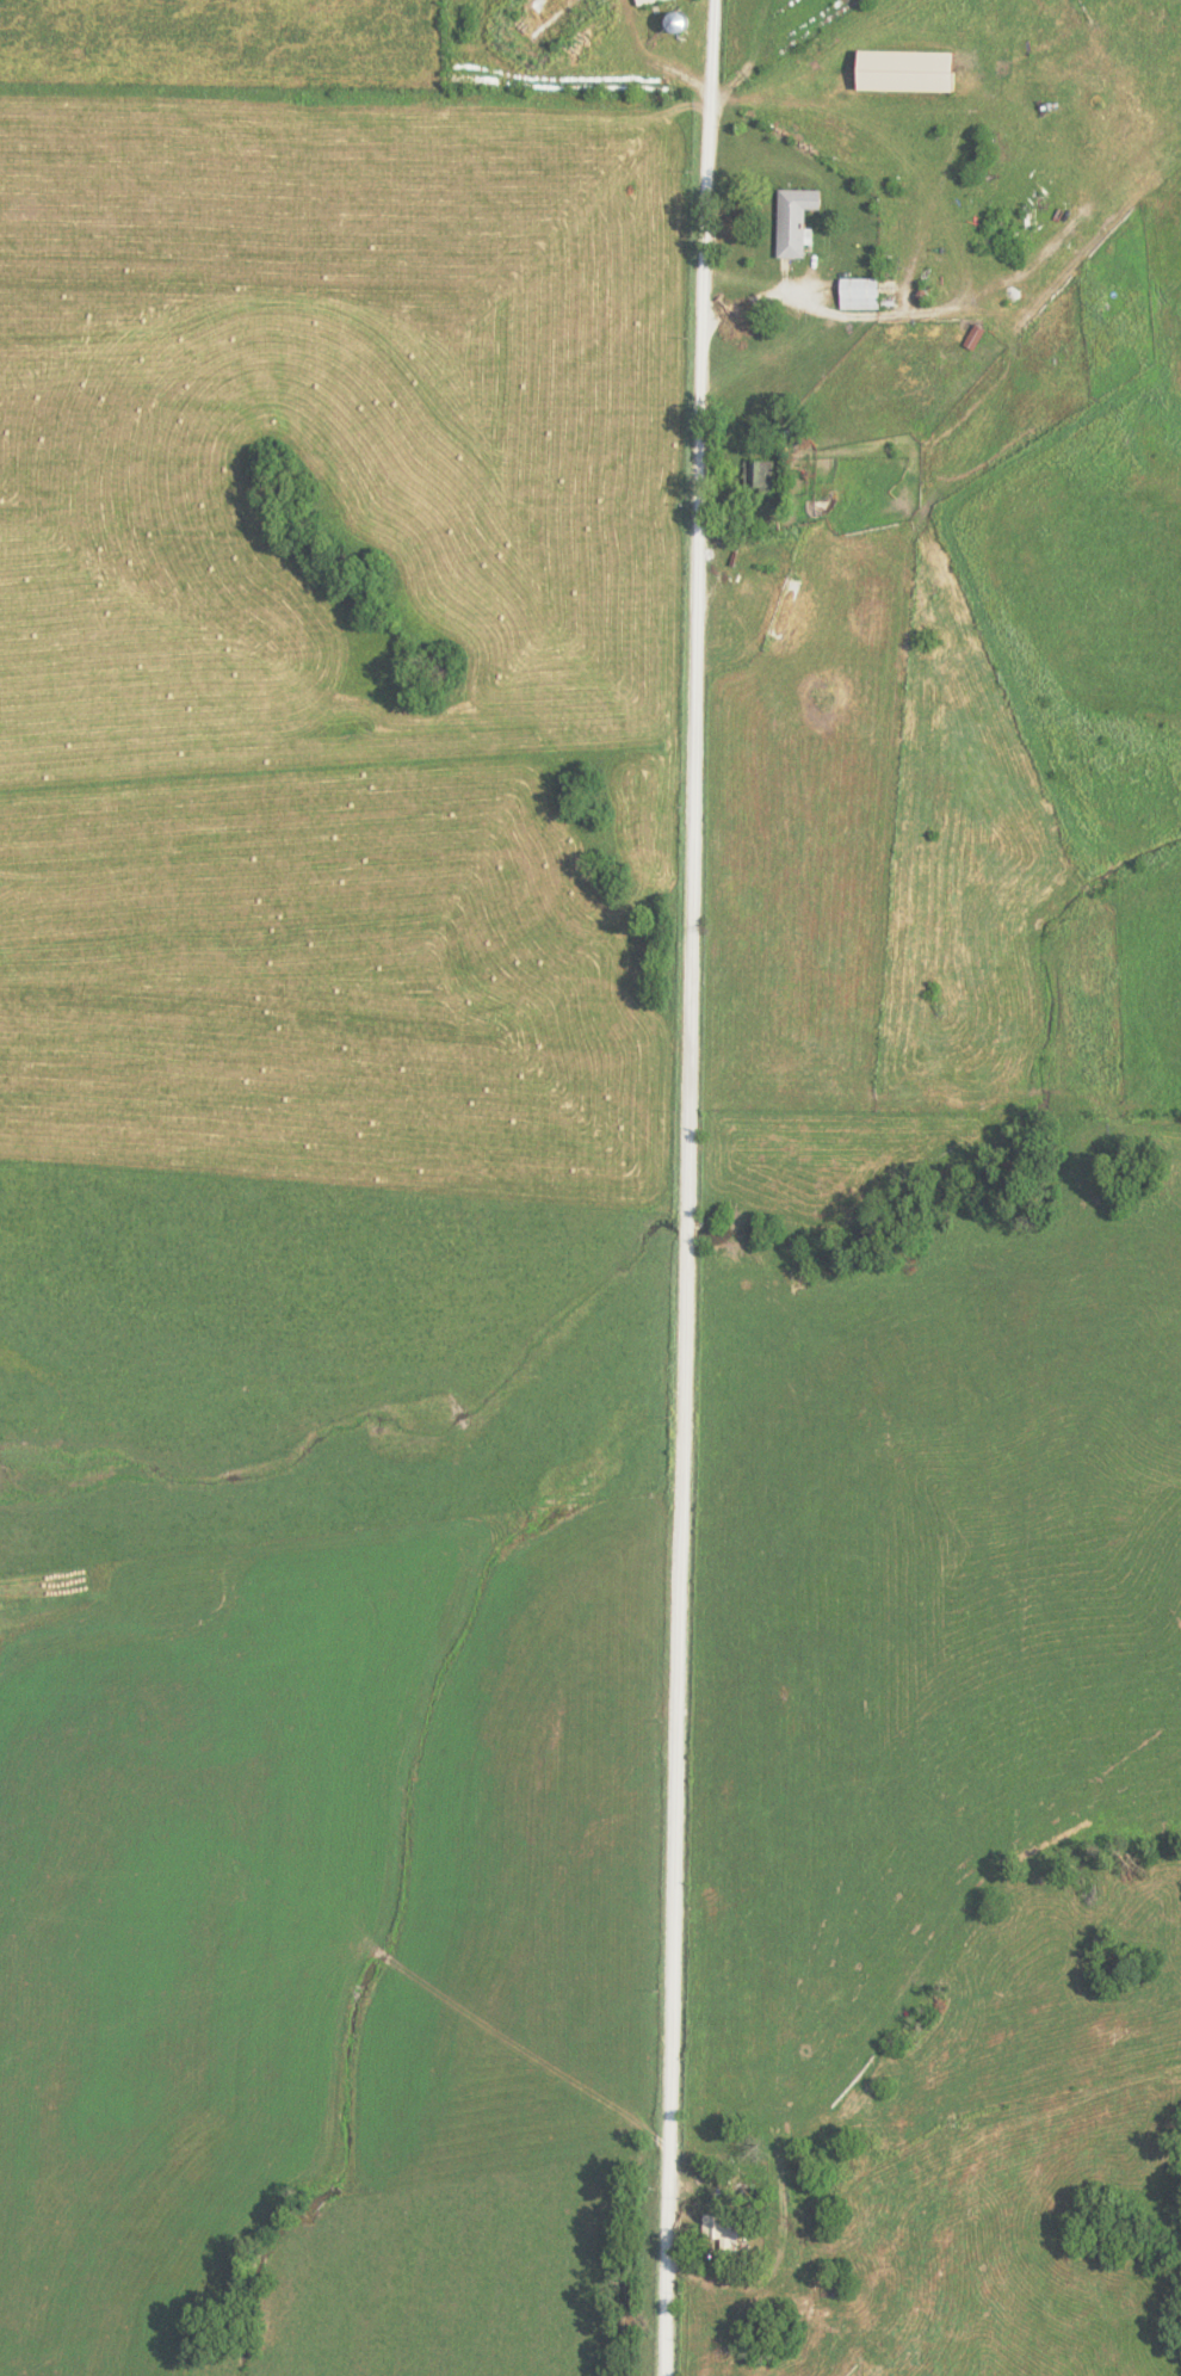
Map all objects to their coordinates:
building: (650, 0)
building: (897, 72)
building: (804, 217)
road: (762, 289)
building: (870, 290)
road: (685, 1187)
building: (725, 2230)

